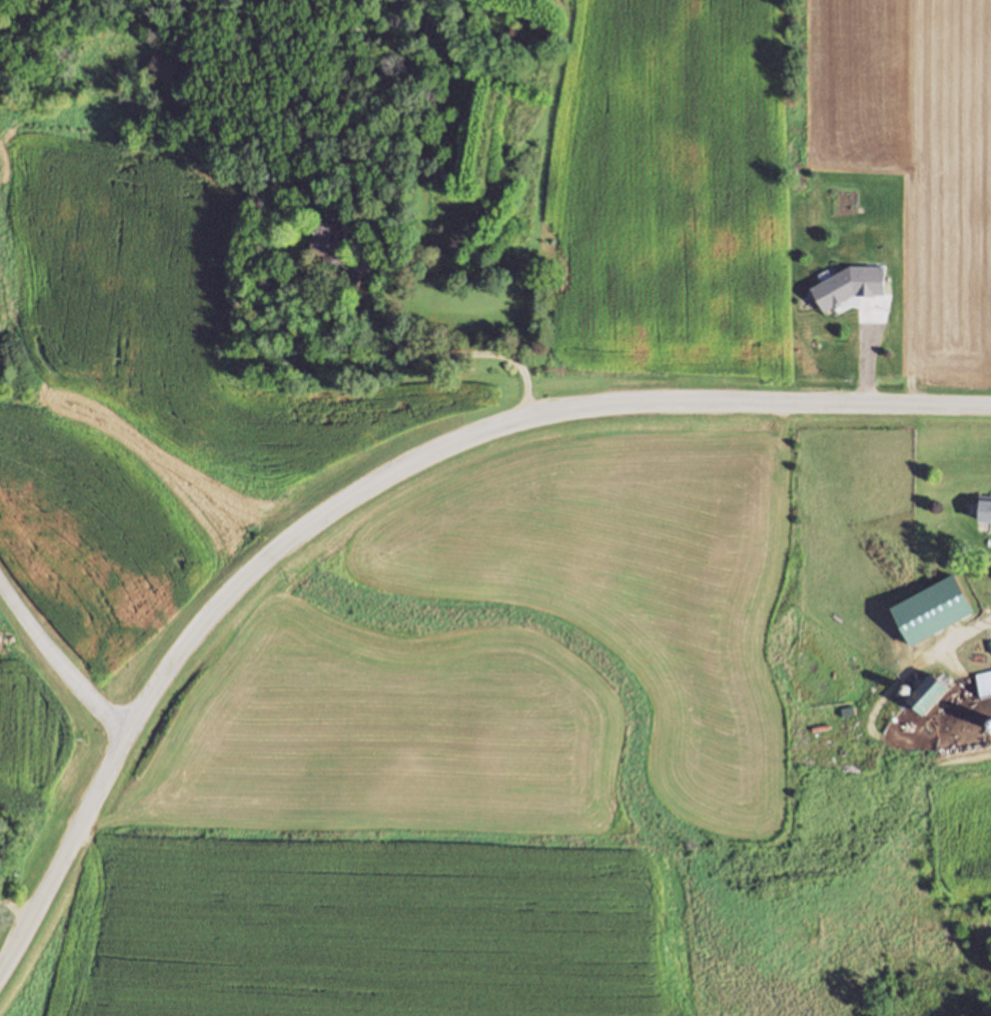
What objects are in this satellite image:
building: (330, 241)
building: (393, 241)
building: (831, 294)
road: (465, 354)
crop: (145, 387)
road: (376, 479)
building: (985, 507)
building: (942, 610)
road: (965, 634)
building: (989, 643)
road: (58, 663)
building: (984, 683)
building: (928, 688)
building: (940, 694)
building: (989, 724)
crop: (28, 731)
road: (981, 753)

